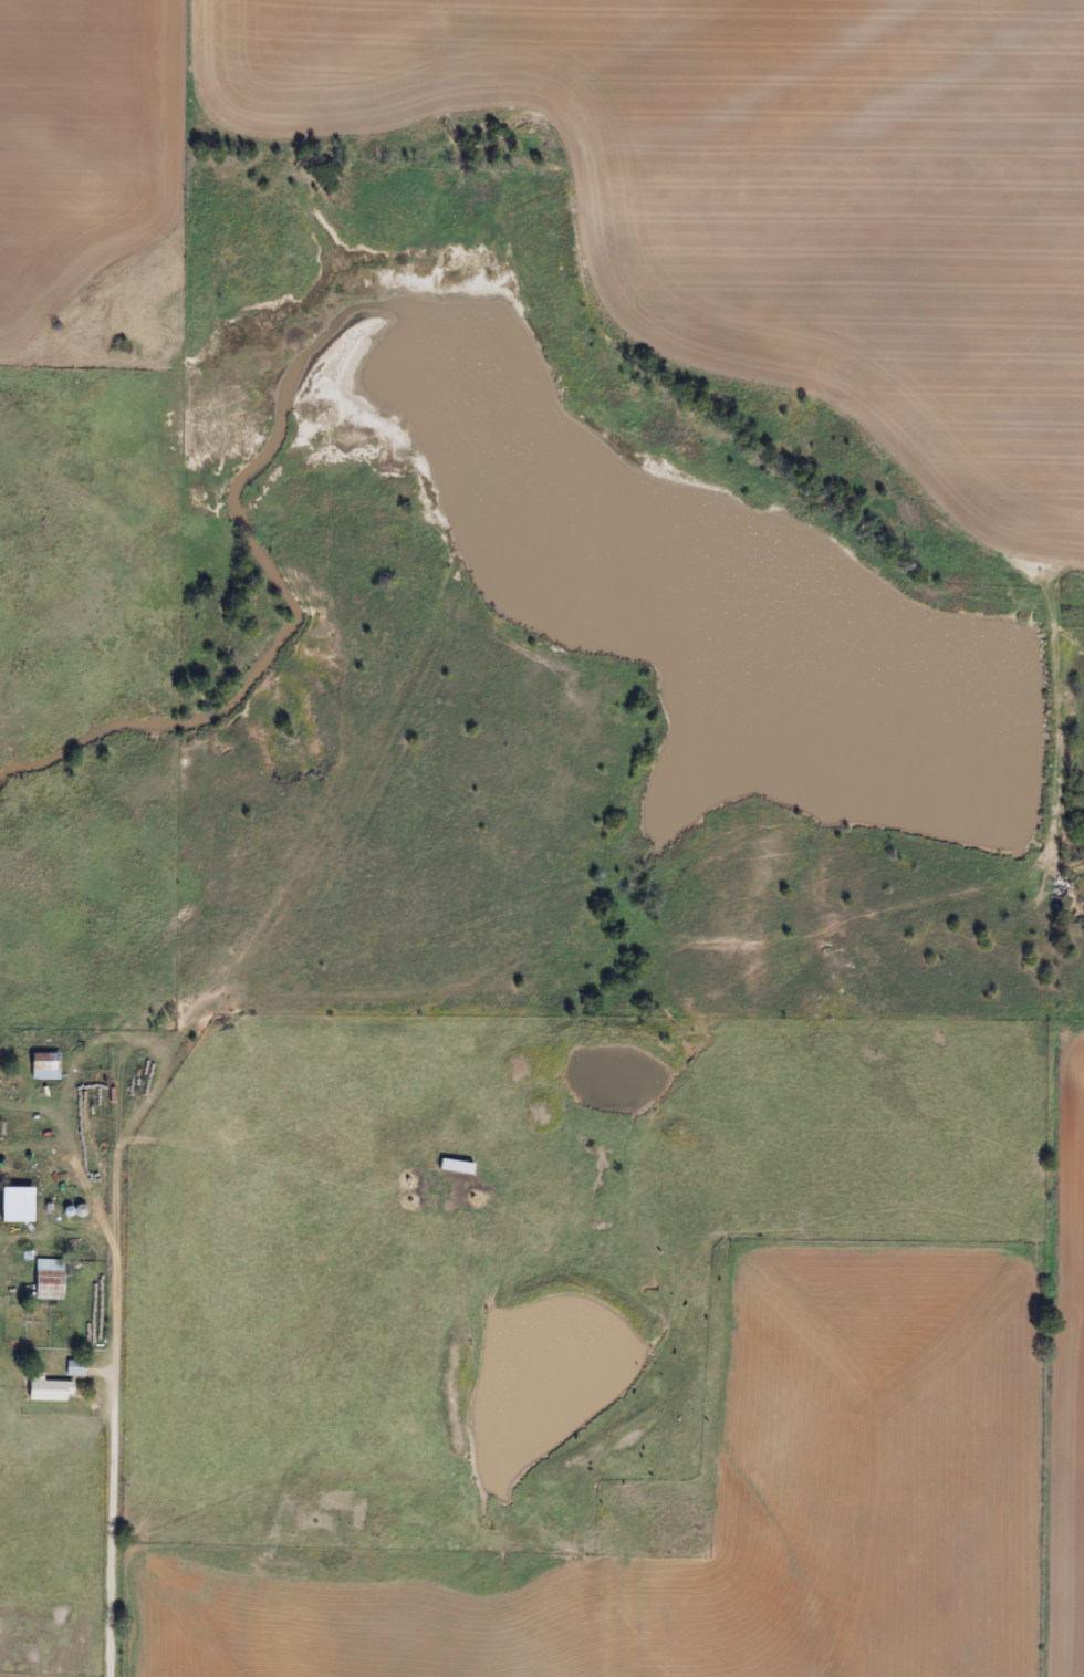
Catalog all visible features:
building: (40, 1066)
building: (13, 1205)
building: (44, 1279)
road: (175, 1352)
building: (43, 1389)

